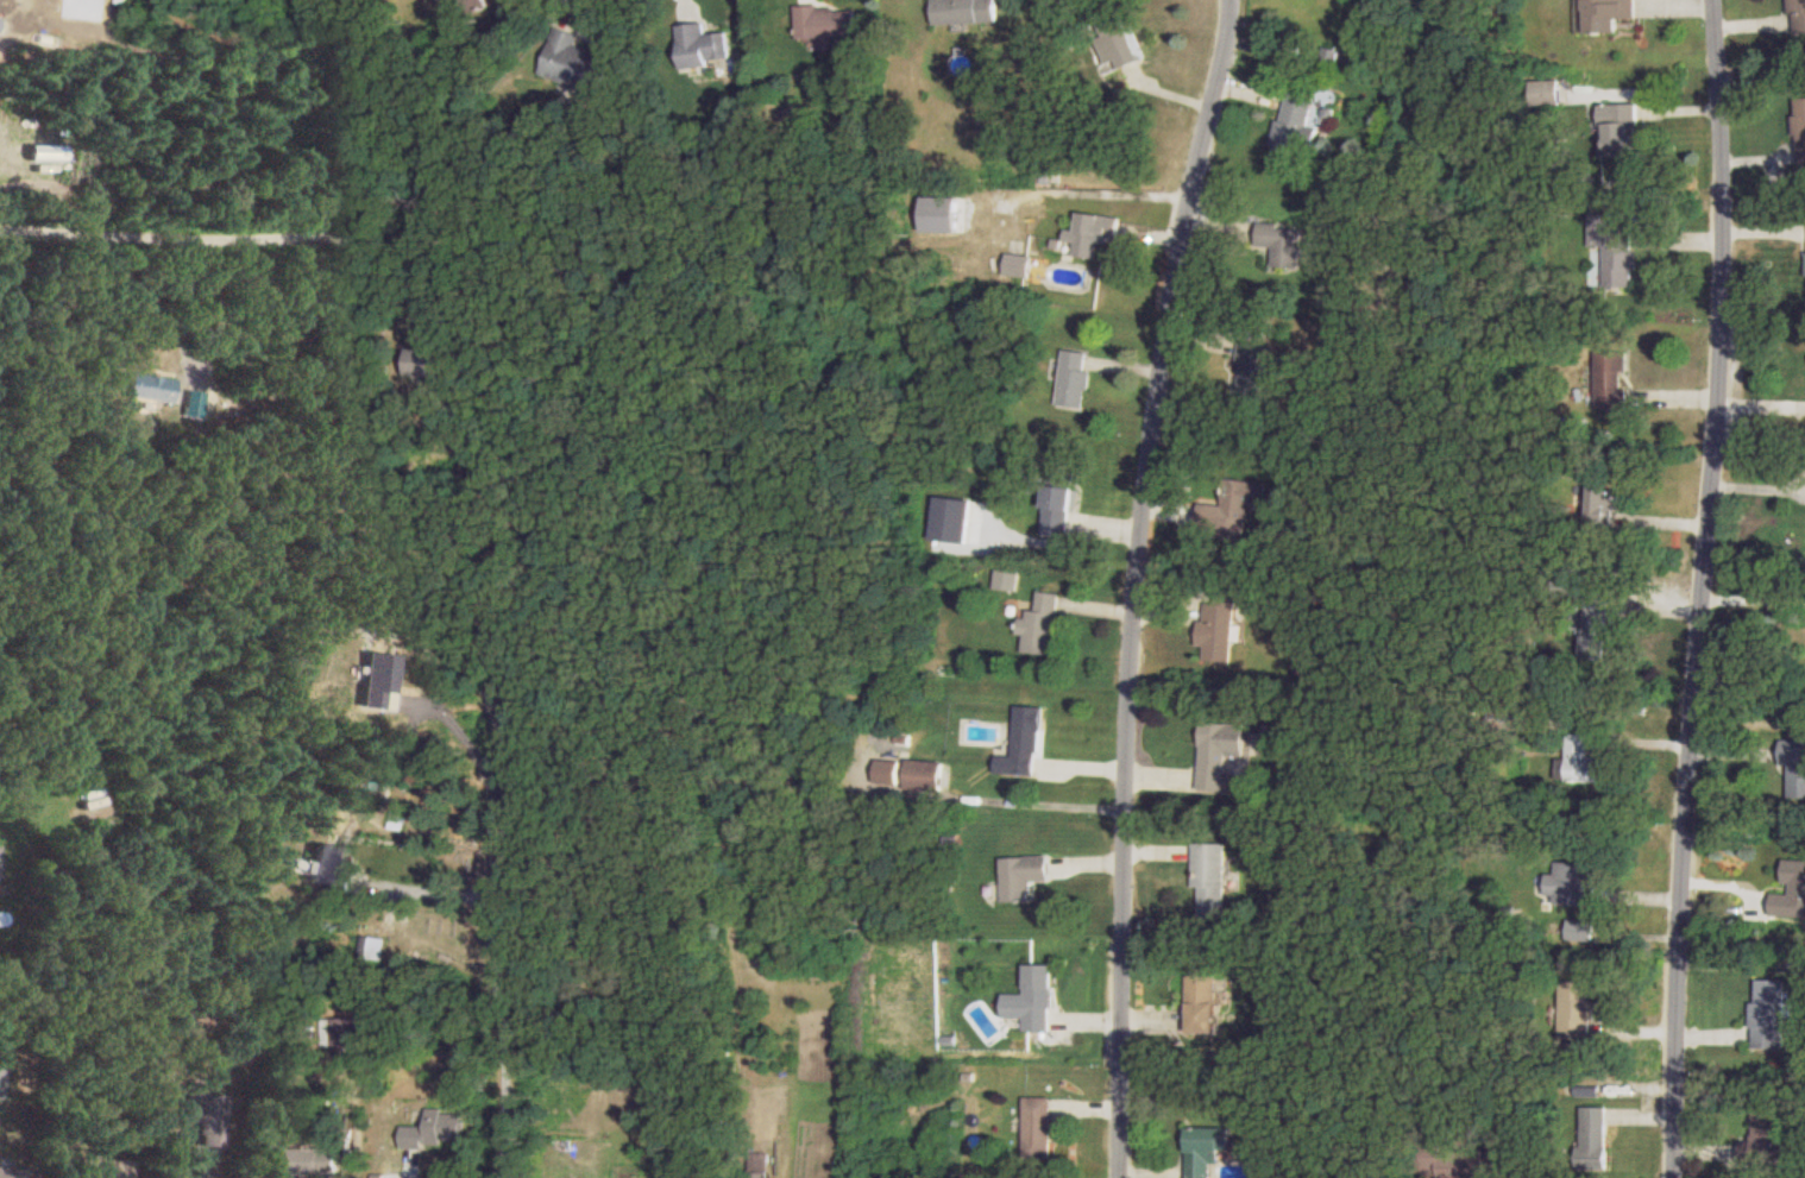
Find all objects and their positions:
building: (474, 5)
building: (966, 11)
building: (1608, 13)
building: (1798, 15)
building: (825, 21)
road: (24, 27)
building: (700, 46)
building: (1111, 46)
building: (1342, 56)
building: (573, 63)
building: (1295, 126)
building: (1801, 126)
building: (1618, 127)
building: (1093, 233)
road: (244, 234)
building: (1282, 244)
building: (1612, 250)
building: (1018, 265)
road: (185, 313)
building: (427, 363)
building: (1251, 372)
building: (1074, 378)
building: (1610, 379)
building: (149, 386)
building: (1232, 510)
building: (1058, 511)
building: (1006, 580)
road: (1125, 584)
road: (1690, 588)
building: (1040, 625)
building: (1596, 625)
building: (1219, 626)
building: (1507, 717)
building: (1027, 741)
building: (1218, 752)
building: (1580, 758)
building: (1794, 768)
building: (925, 774)
road: (493, 783)
building: (331, 865)
building: (1023, 876)
building: (1209, 878)
building: (1571, 883)
road: (452, 890)
building: (1791, 892)
building: (1580, 932)
building: (1033, 999)
building: (1201, 1003)
building: (1577, 1008)
building: (1771, 1013)
road: (499, 1044)
building: (205, 1119)
building: (1036, 1127)
building: (433, 1129)
building: (1593, 1135)
building: (1765, 1140)
building: (1205, 1148)
building: (298, 1159)
building: (1460, 1160)
building: (100, 1167)
building: (15, 1171)
road: (404, 1171)

